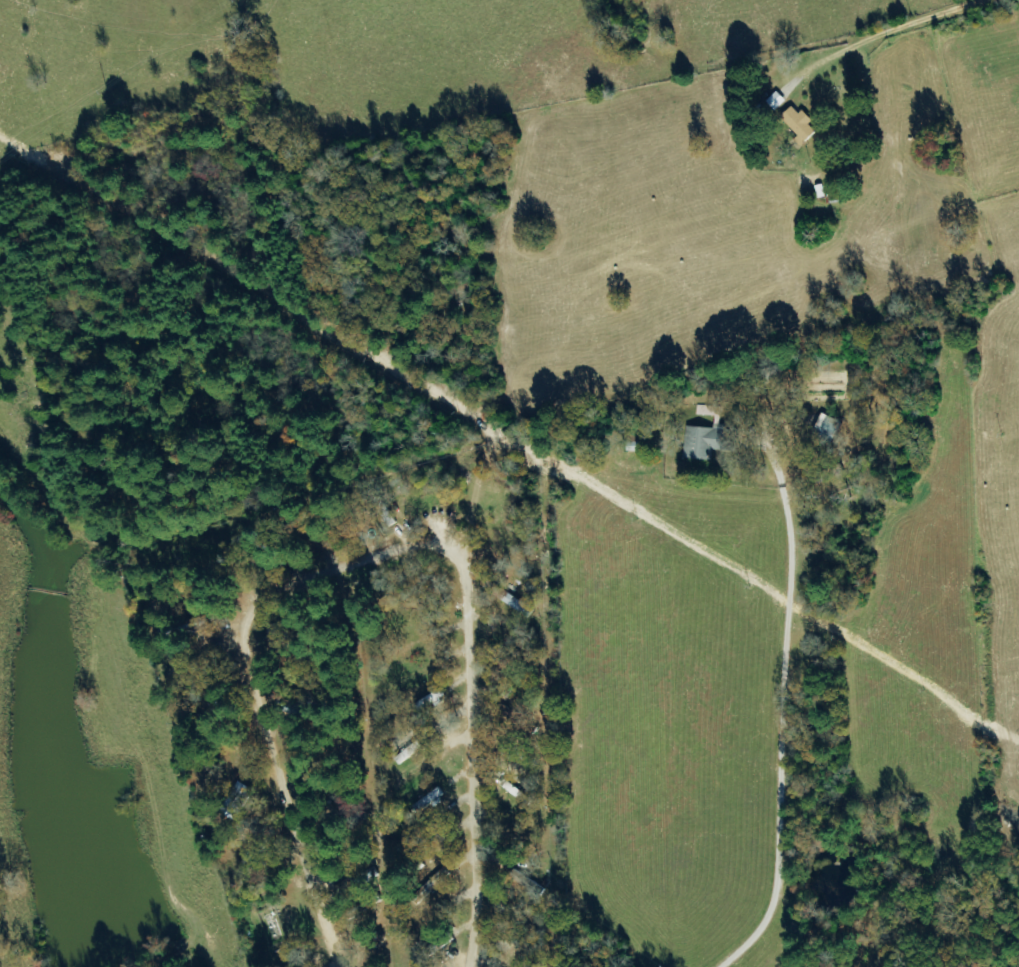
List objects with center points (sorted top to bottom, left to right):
building: (777, 101)
building: (801, 123)
building: (829, 428)
building: (708, 441)
road: (368, 562)
building: (205, 665)
building: (410, 752)
road: (781, 760)
building: (418, 774)
building: (431, 800)
building: (310, 965)

